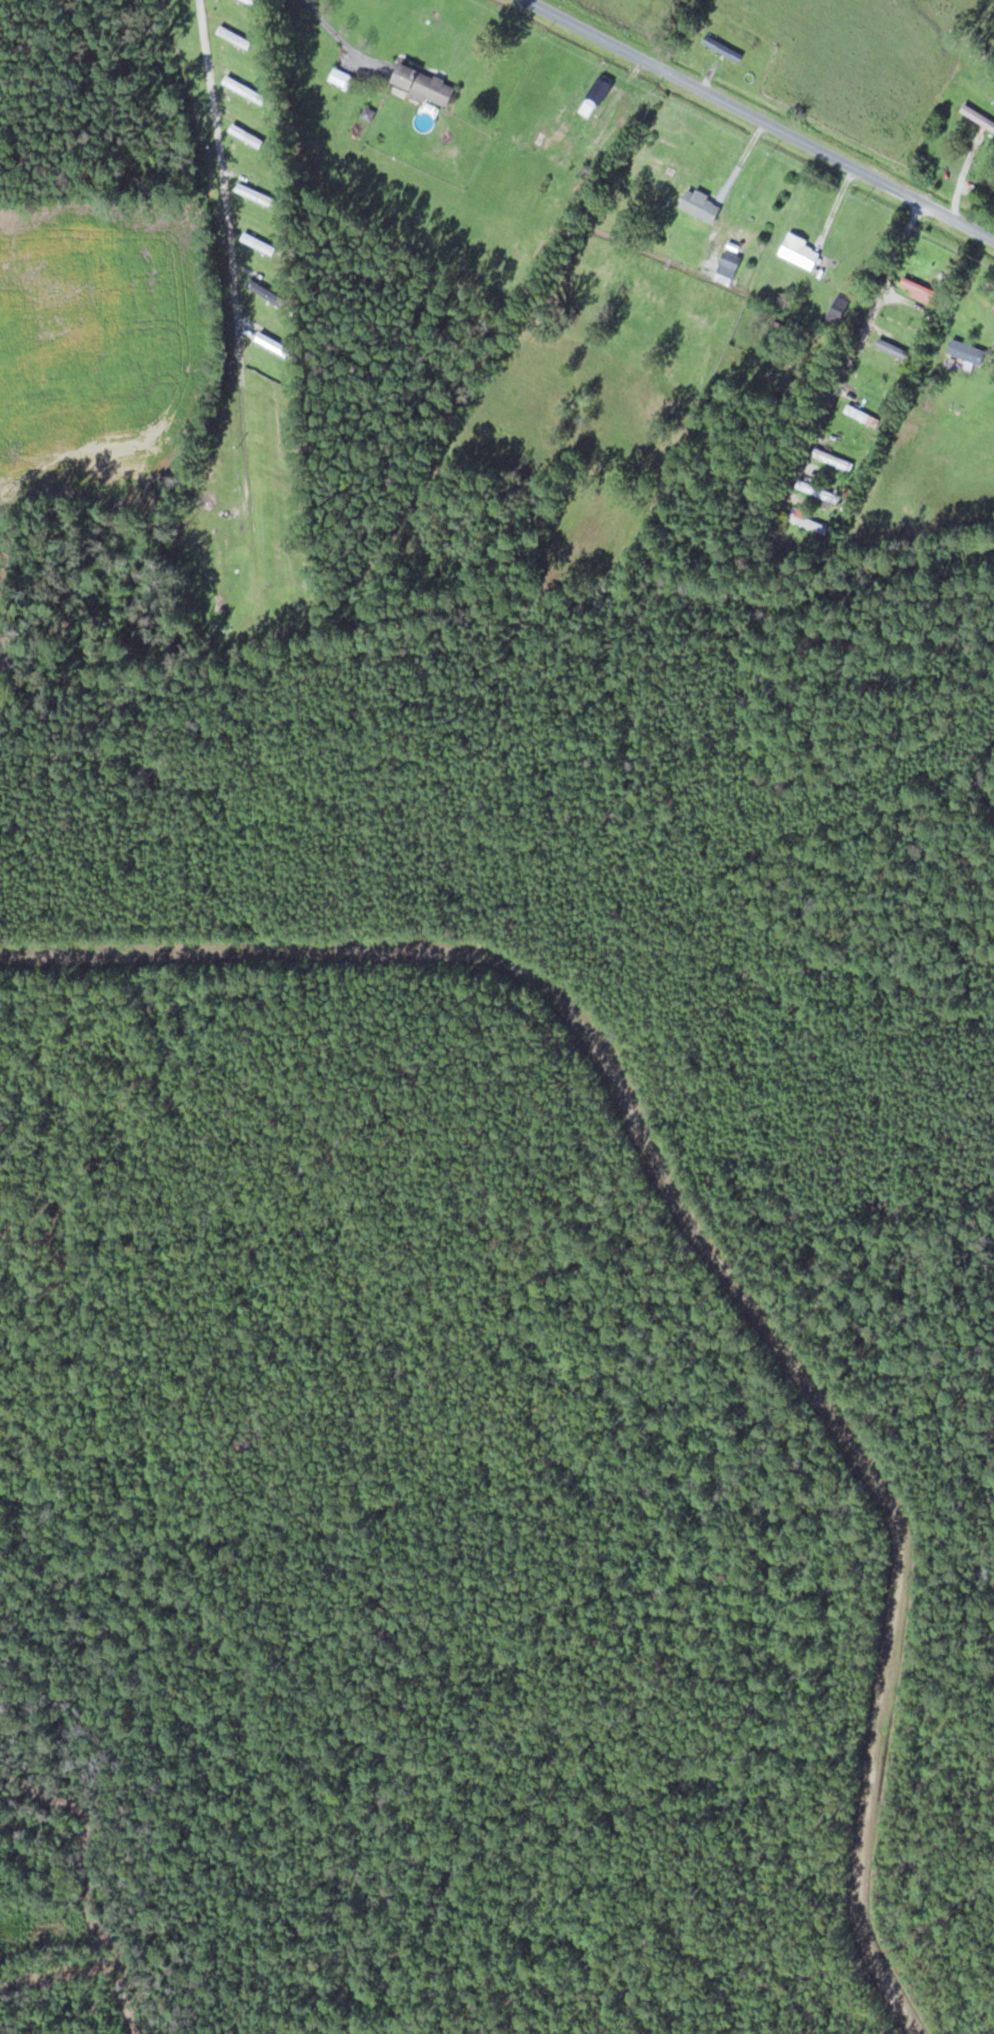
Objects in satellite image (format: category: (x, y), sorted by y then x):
building: (722, 48)
building: (424, 84)
building: (600, 89)
building: (978, 116)
road: (769, 122)
building: (546, 141)
building: (701, 205)
building: (800, 250)
building: (730, 264)
building: (920, 290)
building: (838, 309)
building: (893, 348)
building: (967, 351)
building: (862, 415)
building: (833, 459)
building: (807, 469)
building: (806, 520)
building: (233, 612)

